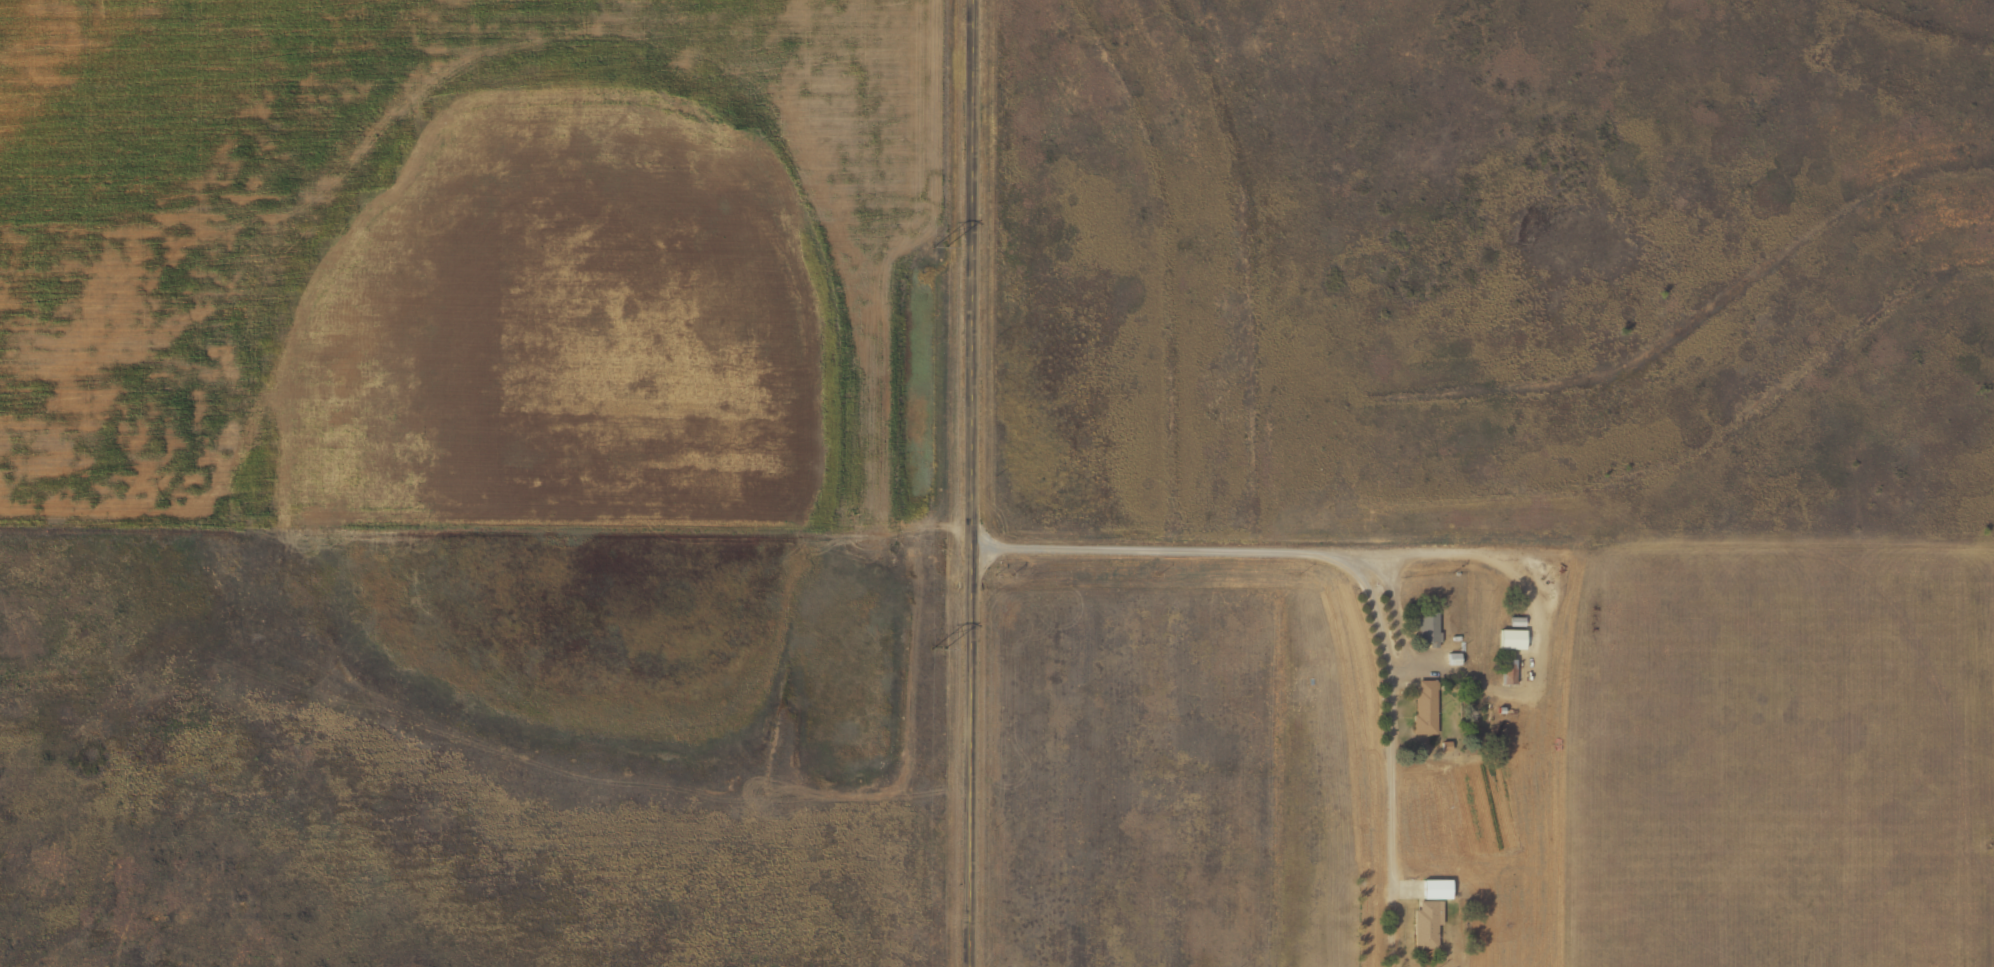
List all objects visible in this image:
power tower: (935, 248)
road: (968, 483)
road: (1237, 550)
road: (1480, 554)
building: (1427, 631)
power tower: (934, 649)
building: (1507, 672)
building: (1425, 708)
building: (1429, 915)

